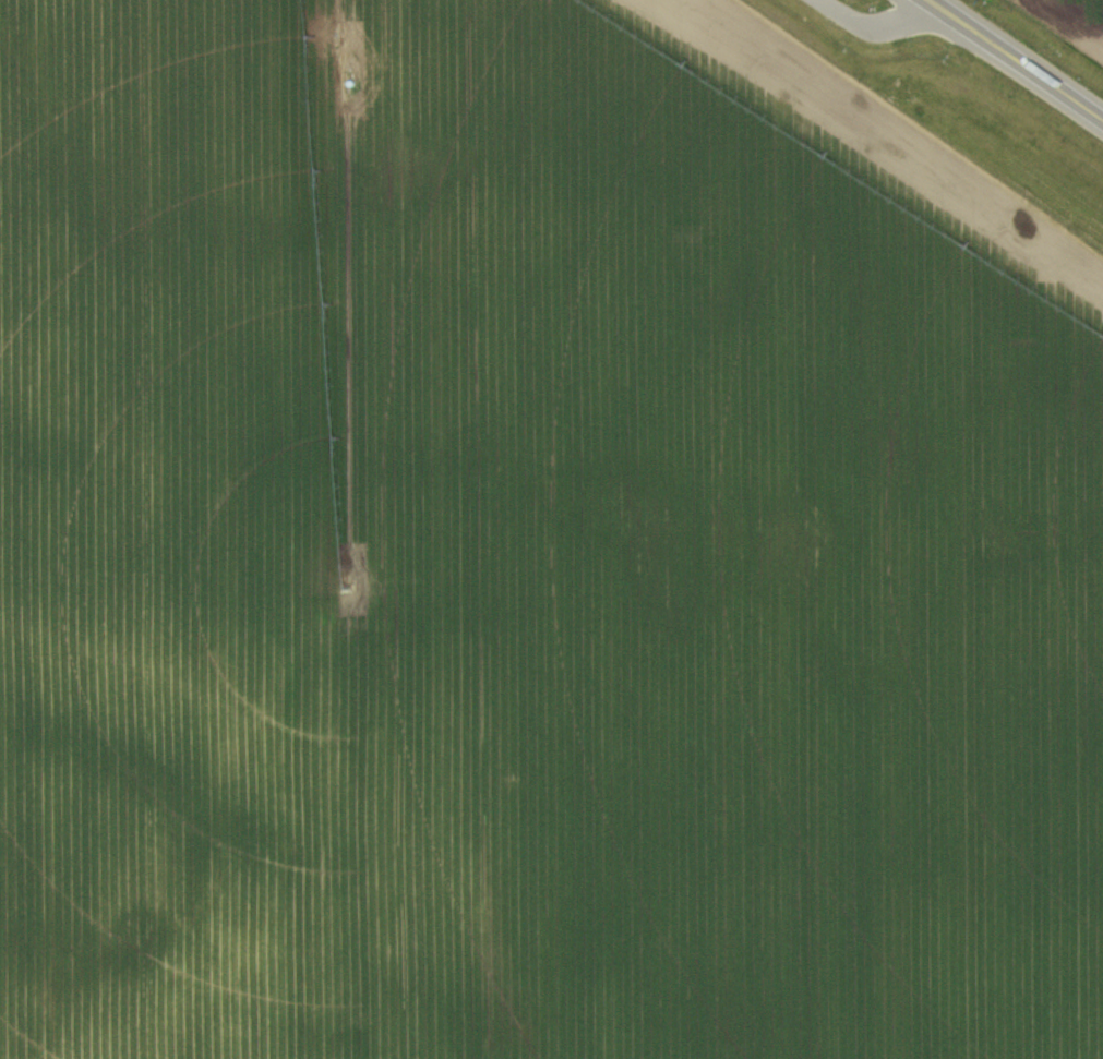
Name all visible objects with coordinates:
crop: (1086, 12)
road: (900, 31)
road: (1028, 55)
crop: (1067, 913)

